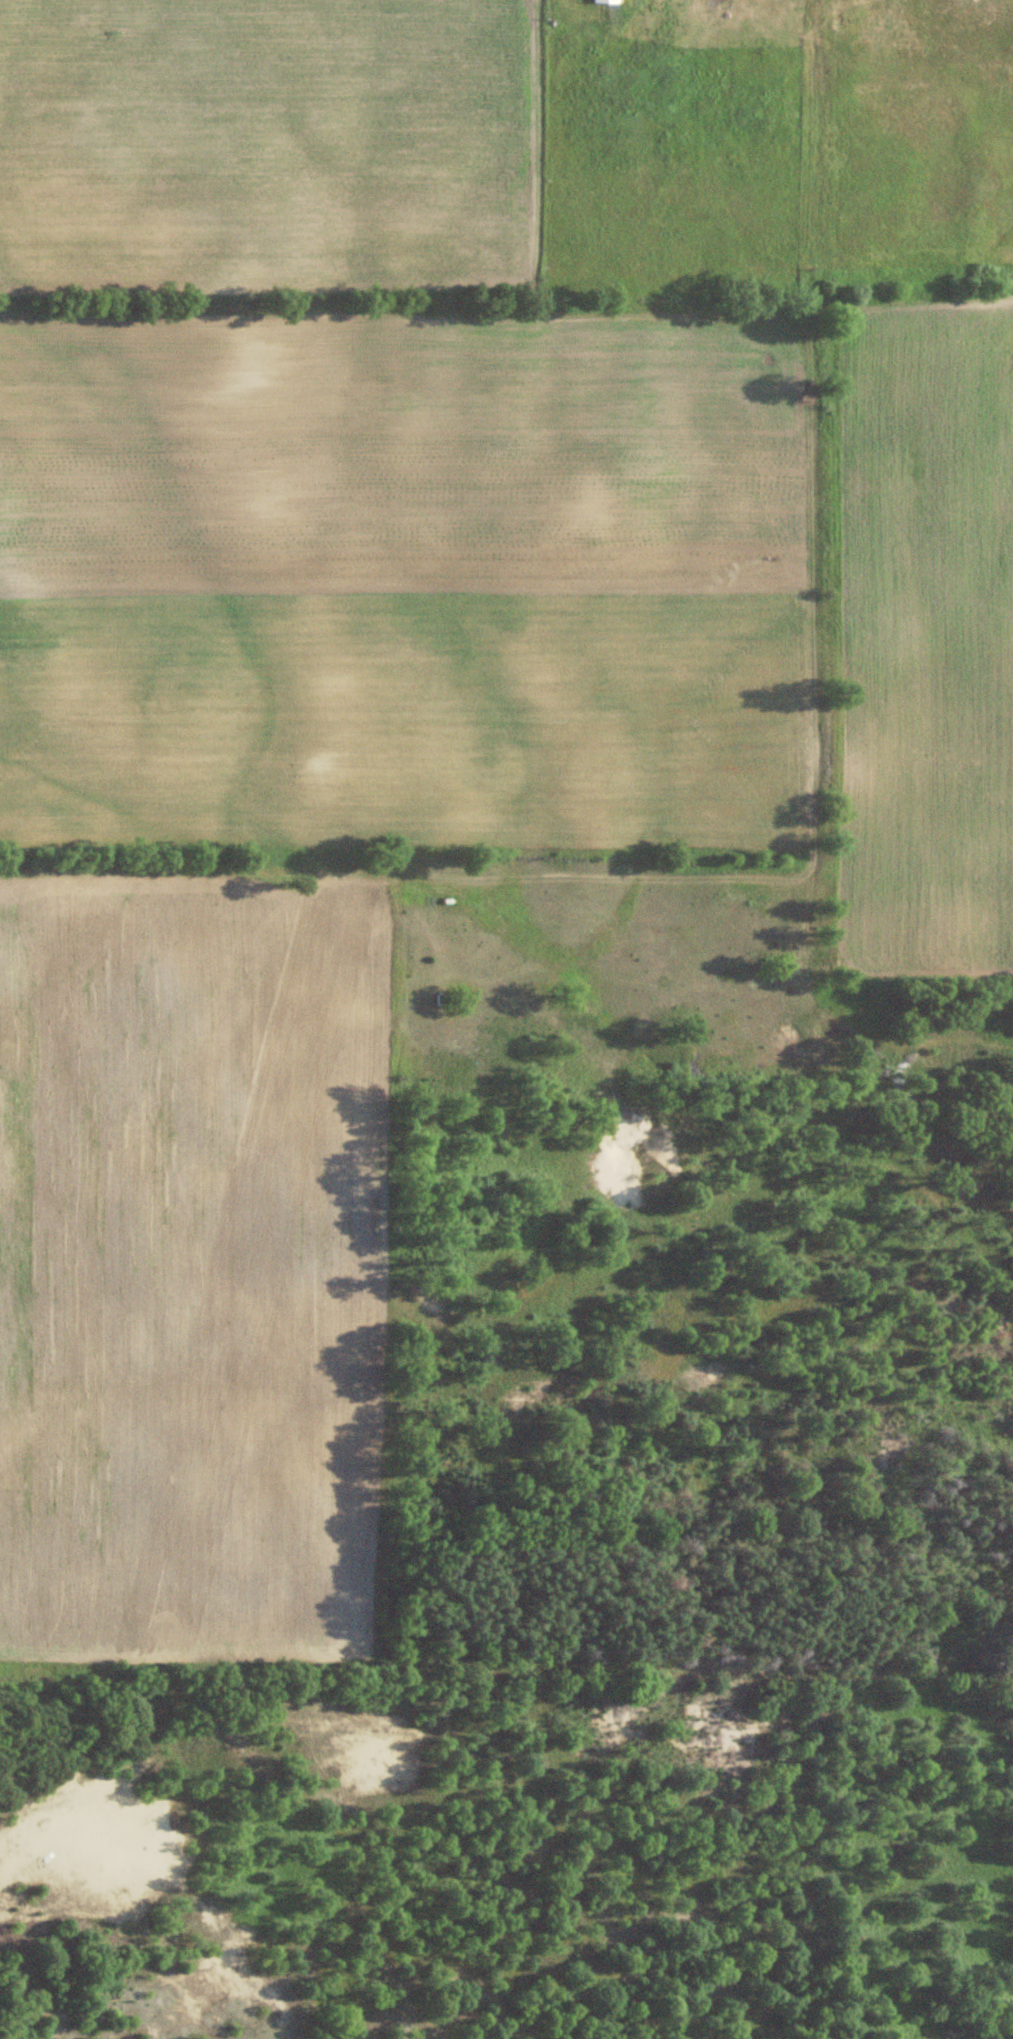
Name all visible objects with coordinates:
building: (599, 0)

